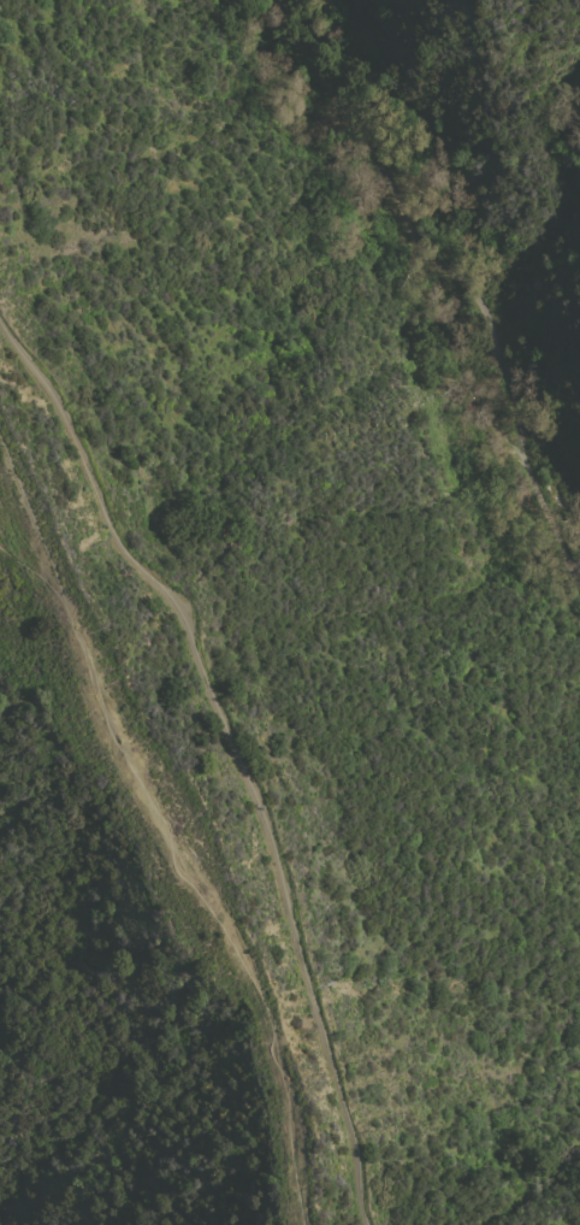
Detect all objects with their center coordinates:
road: (454, 275)
road: (32, 572)
road: (233, 748)
road: (165, 832)

